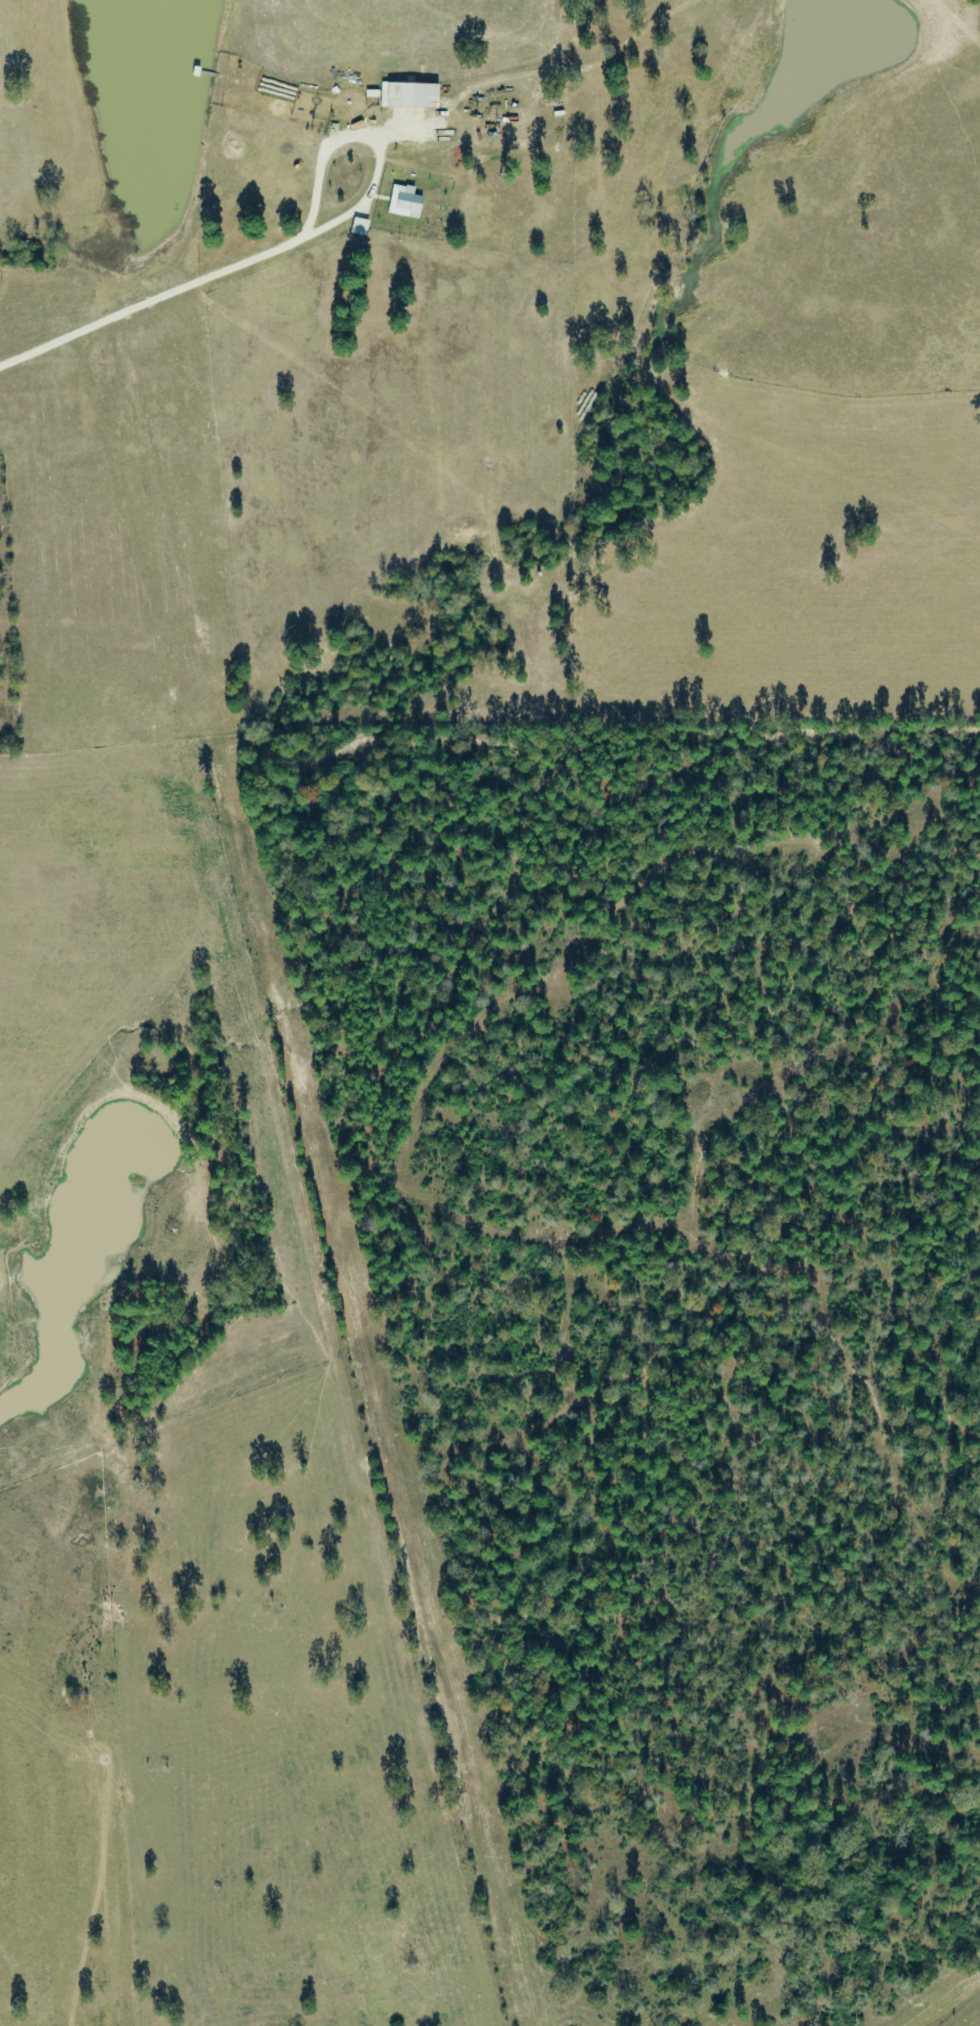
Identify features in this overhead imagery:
building: (7, 96)
building: (404, 203)

